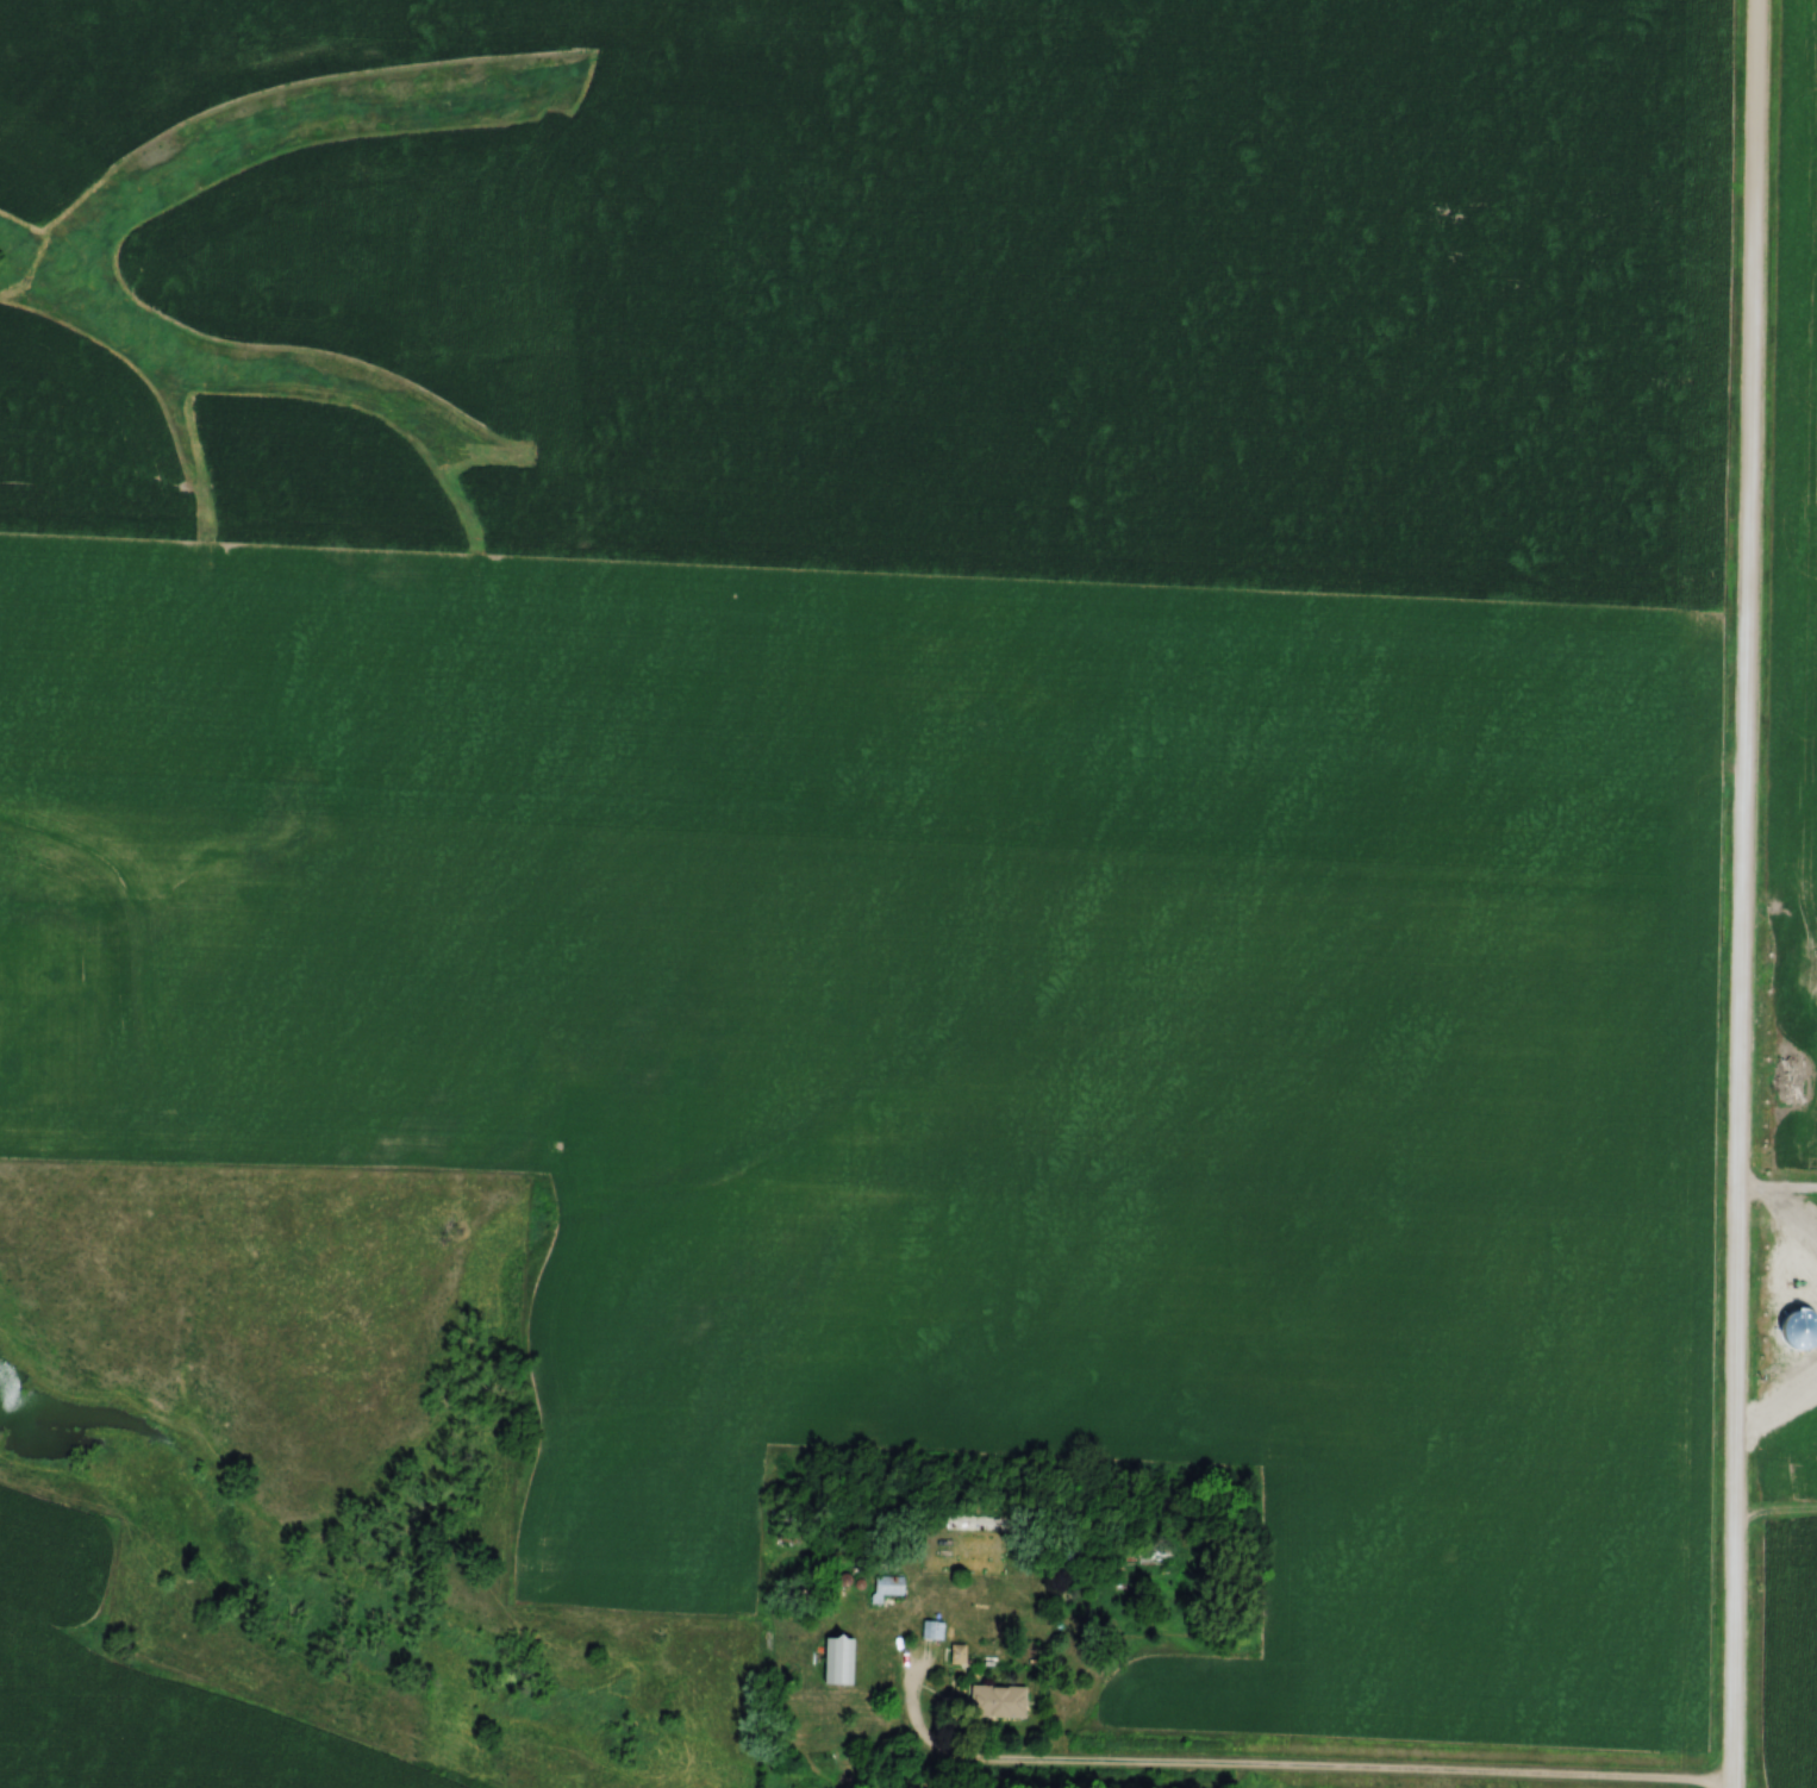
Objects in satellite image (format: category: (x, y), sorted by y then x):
road: (1741, 893)
road: (1777, 1189)
building: (953, 1552)
building: (888, 1583)
building: (838, 1659)
building: (994, 1700)
road: (1268, 1769)

